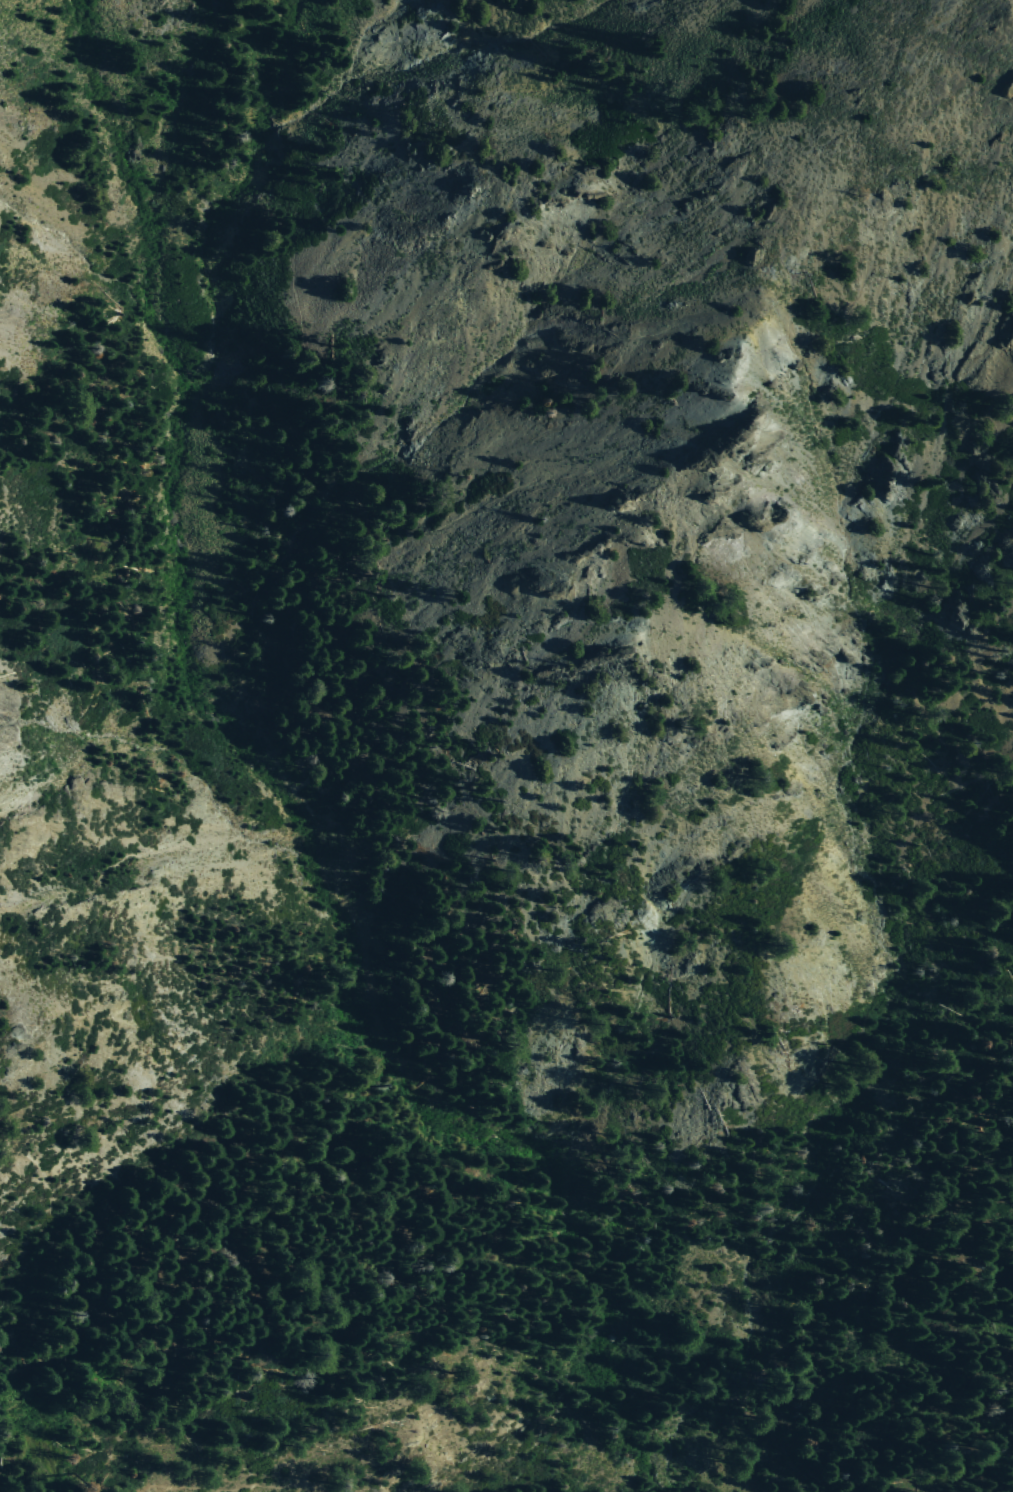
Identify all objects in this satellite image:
road: (177, 1487)

